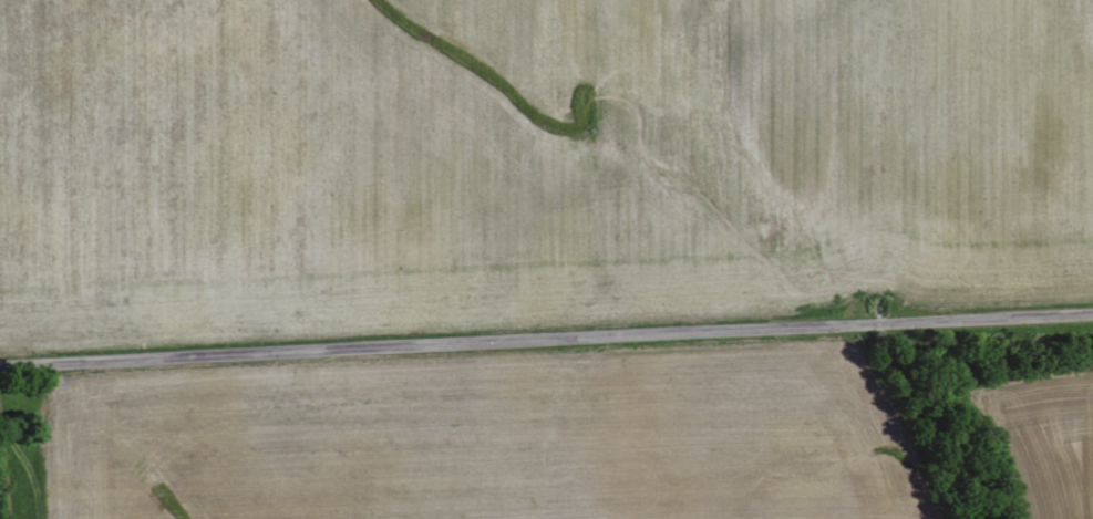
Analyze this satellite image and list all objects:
road: (546, 343)

